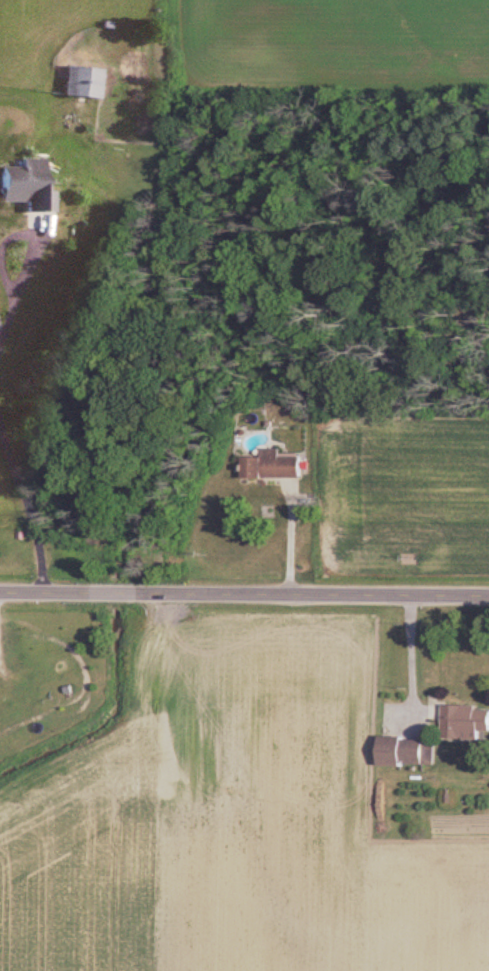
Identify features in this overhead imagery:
building: (85, 83)
building: (26, 186)
road: (15, 269)
building: (274, 466)
road: (21, 522)
road: (281, 541)
road: (244, 596)
road: (404, 662)
building: (466, 723)
building: (408, 753)

